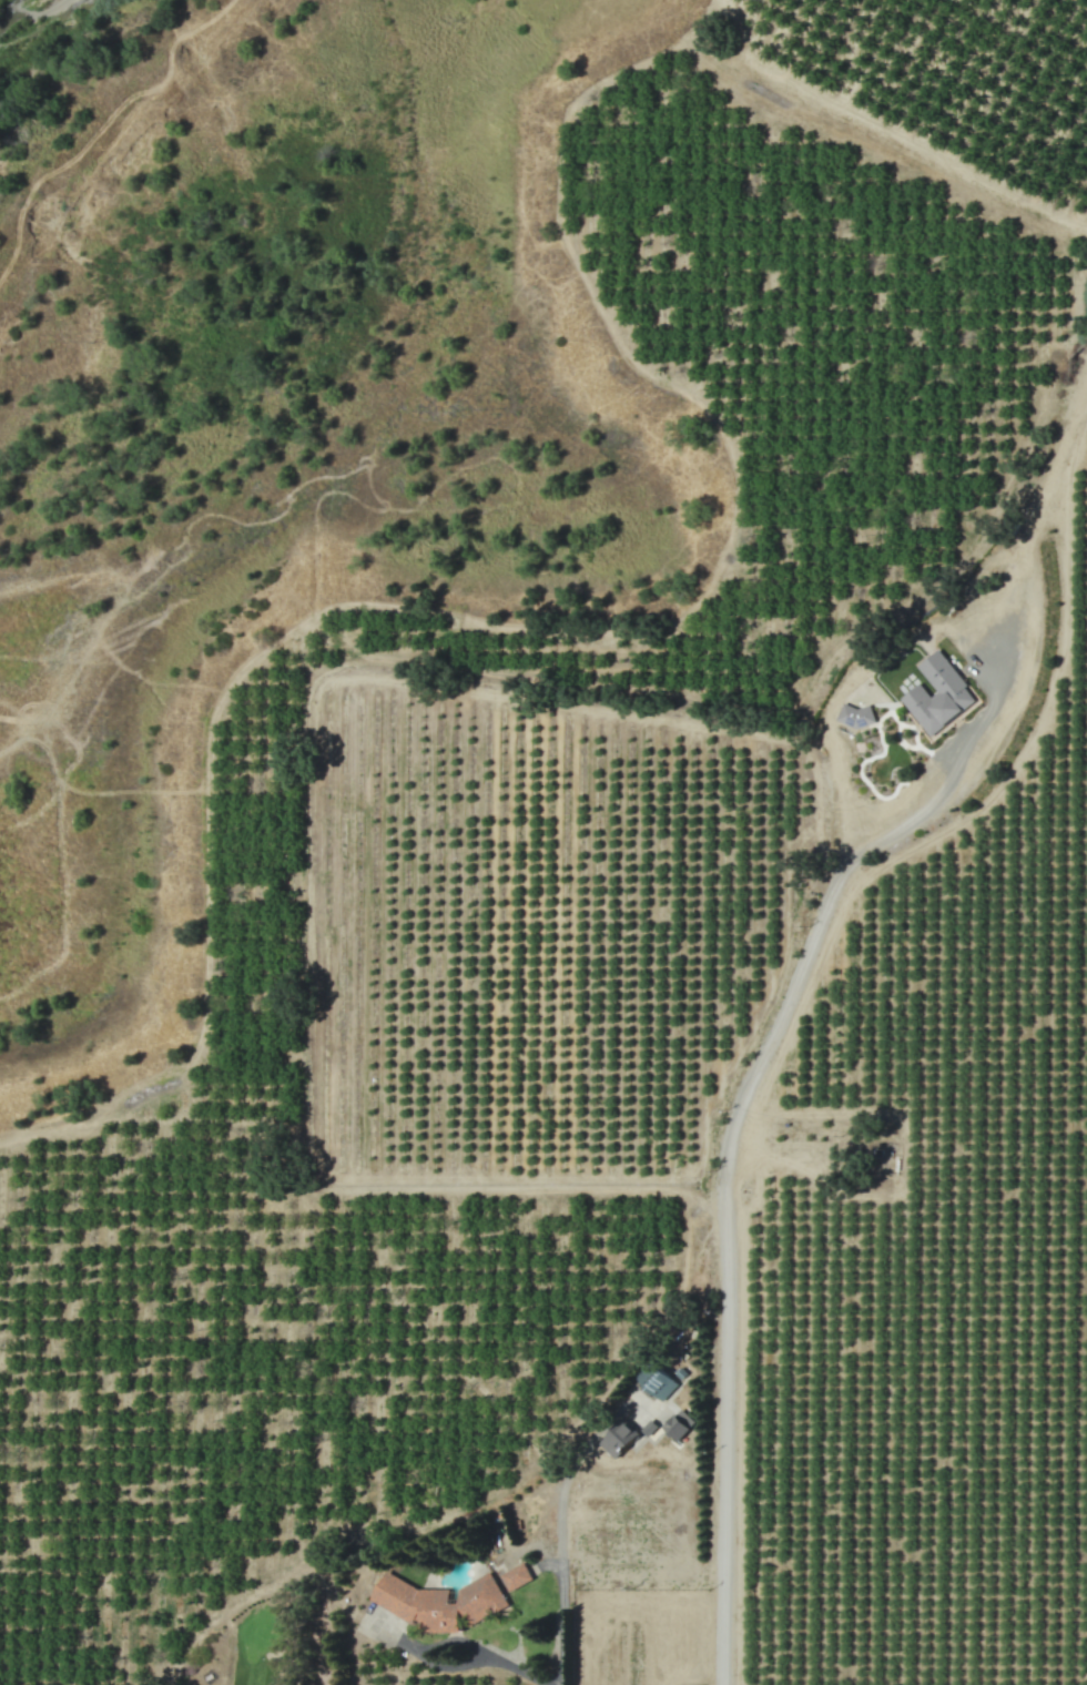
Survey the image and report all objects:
river: (42, 24)
building: (937, 694)
building: (855, 715)
road: (724, 1190)
building: (678, 1427)
building: (619, 1439)
road: (562, 1563)
building: (516, 1577)
building: (438, 1602)
road: (419, 1646)
road: (501, 1663)
road: (453, 1665)

